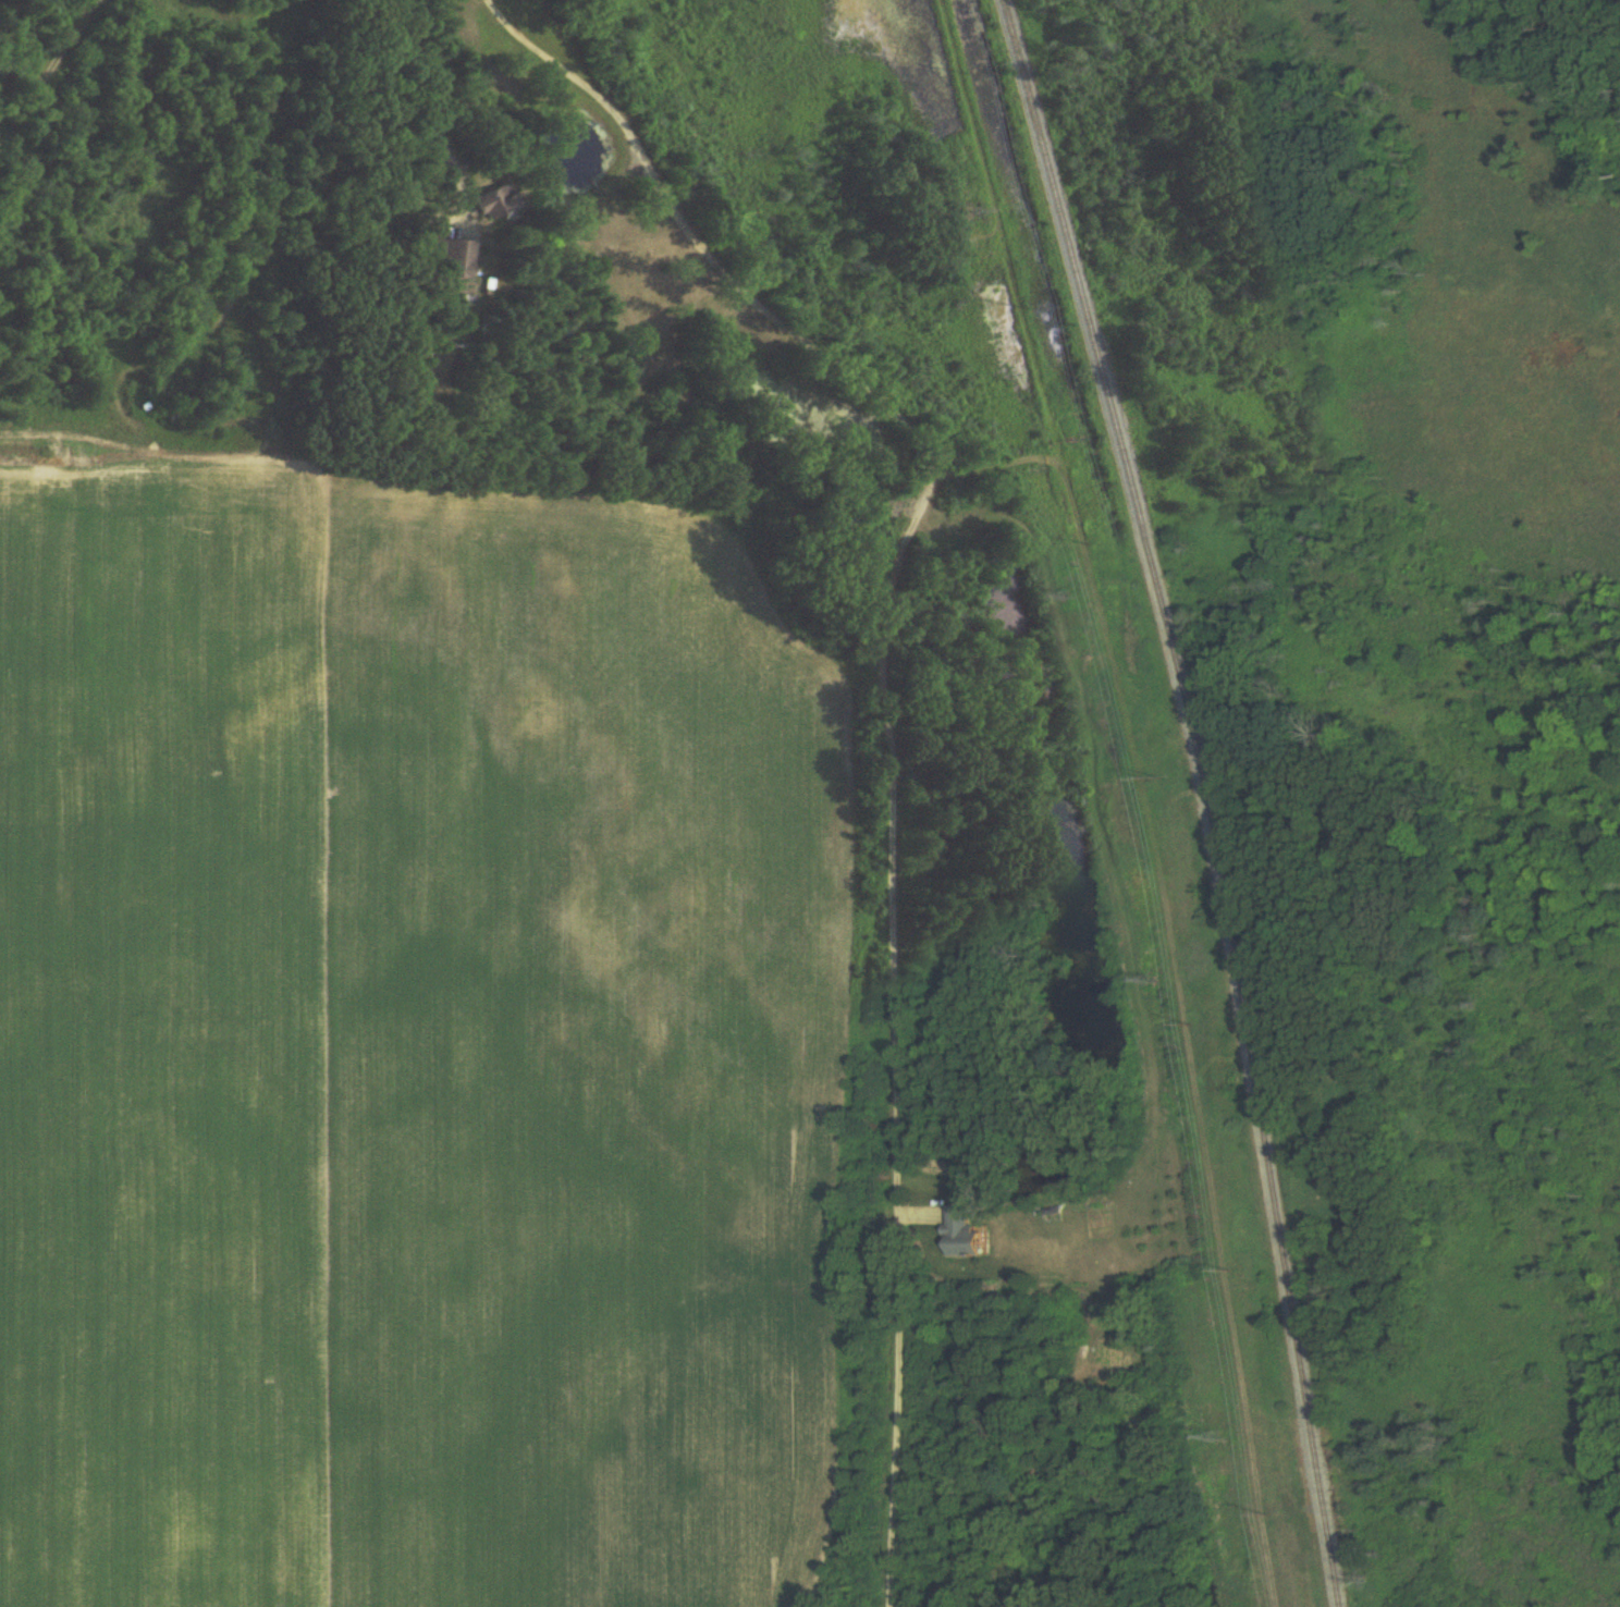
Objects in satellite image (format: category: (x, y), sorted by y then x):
road: (433, 100)
building: (494, 204)
power tower: (974, 212)
building: (459, 260)
power tower: (1075, 596)
road: (884, 708)
railway: (1207, 795)
power tower: (1151, 982)
building: (965, 1235)
power tower: (1225, 1439)

